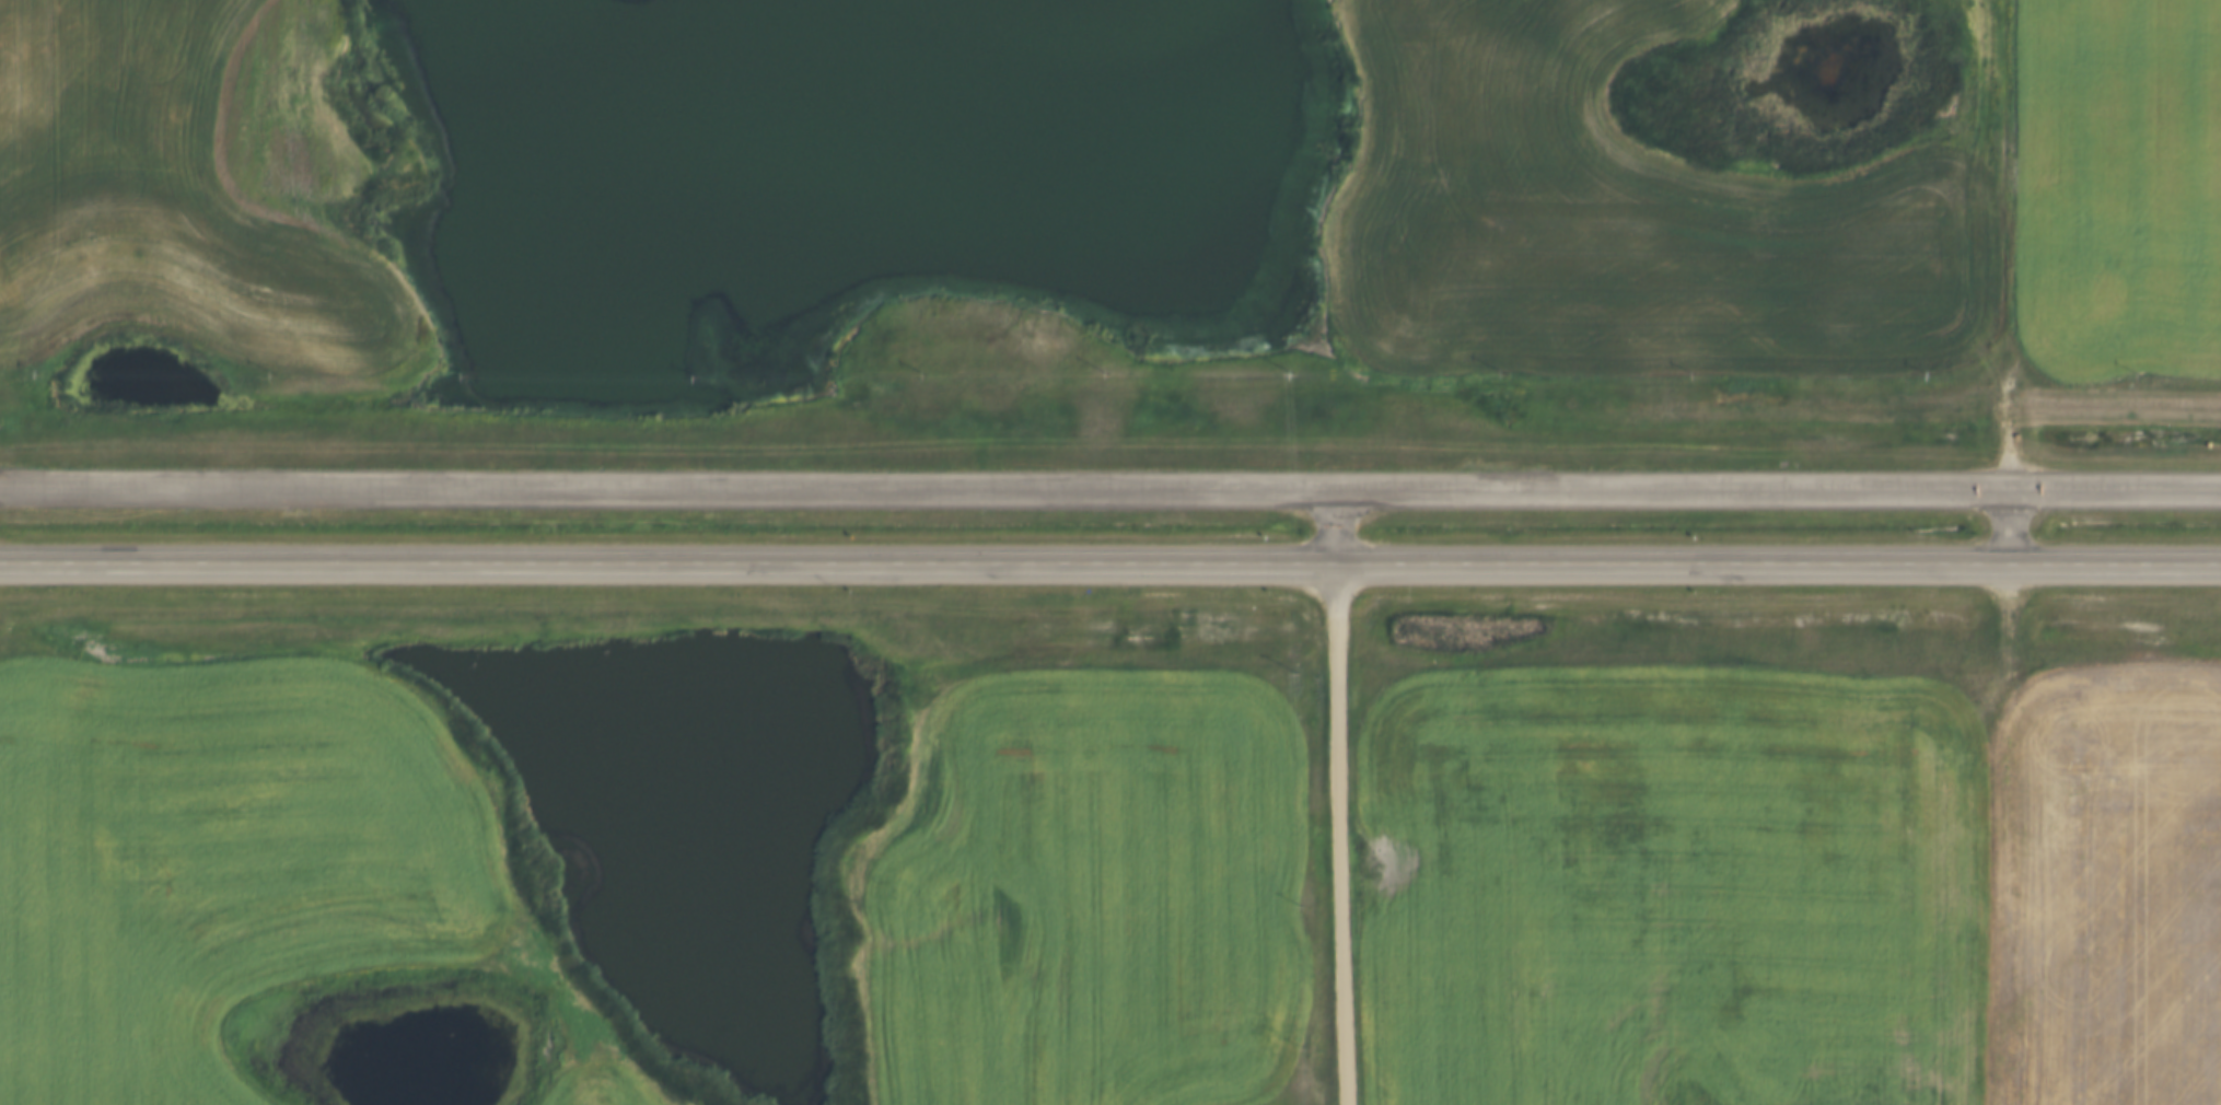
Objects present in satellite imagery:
road: (2015, 248)
road: (1110, 498)
road: (2013, 527)
road: (1338, 531)
road: (1110, 561)
road: (1337, 834)

